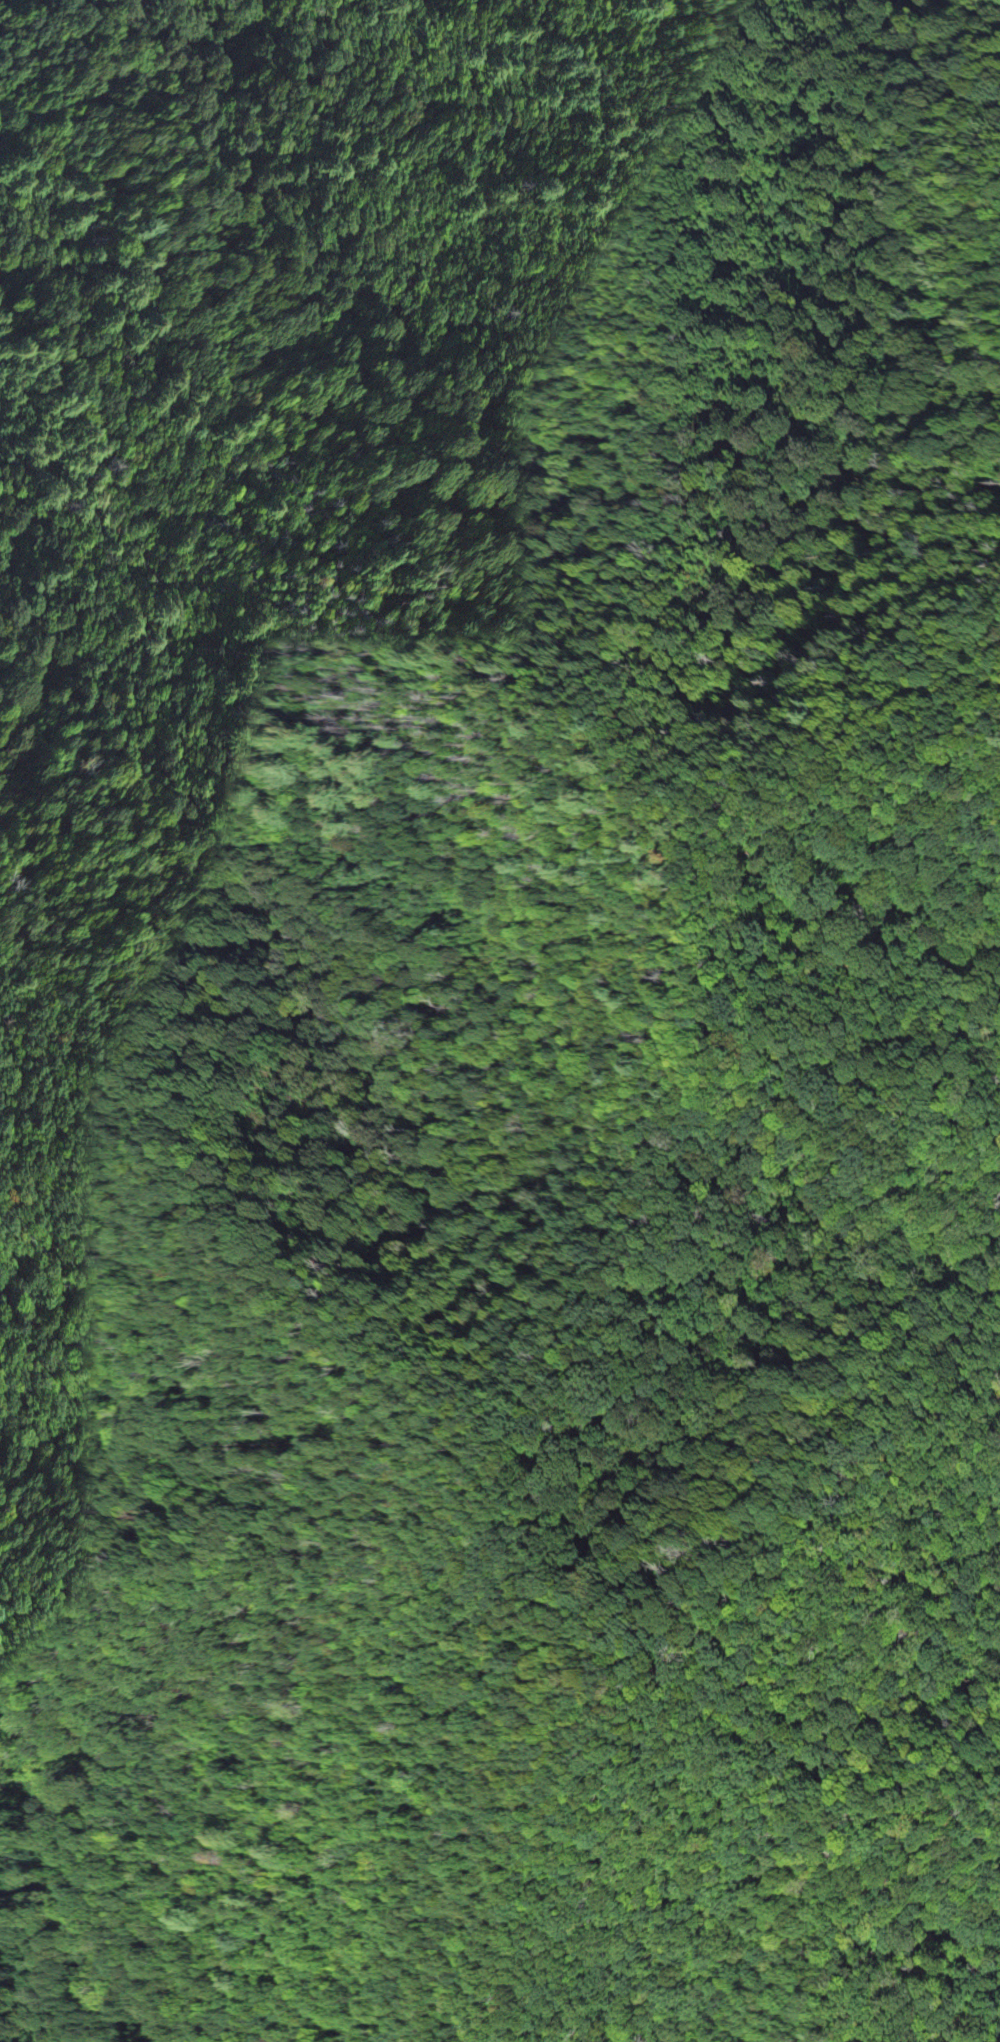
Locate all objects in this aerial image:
road: (877, 169)
road: (900, 1945)

